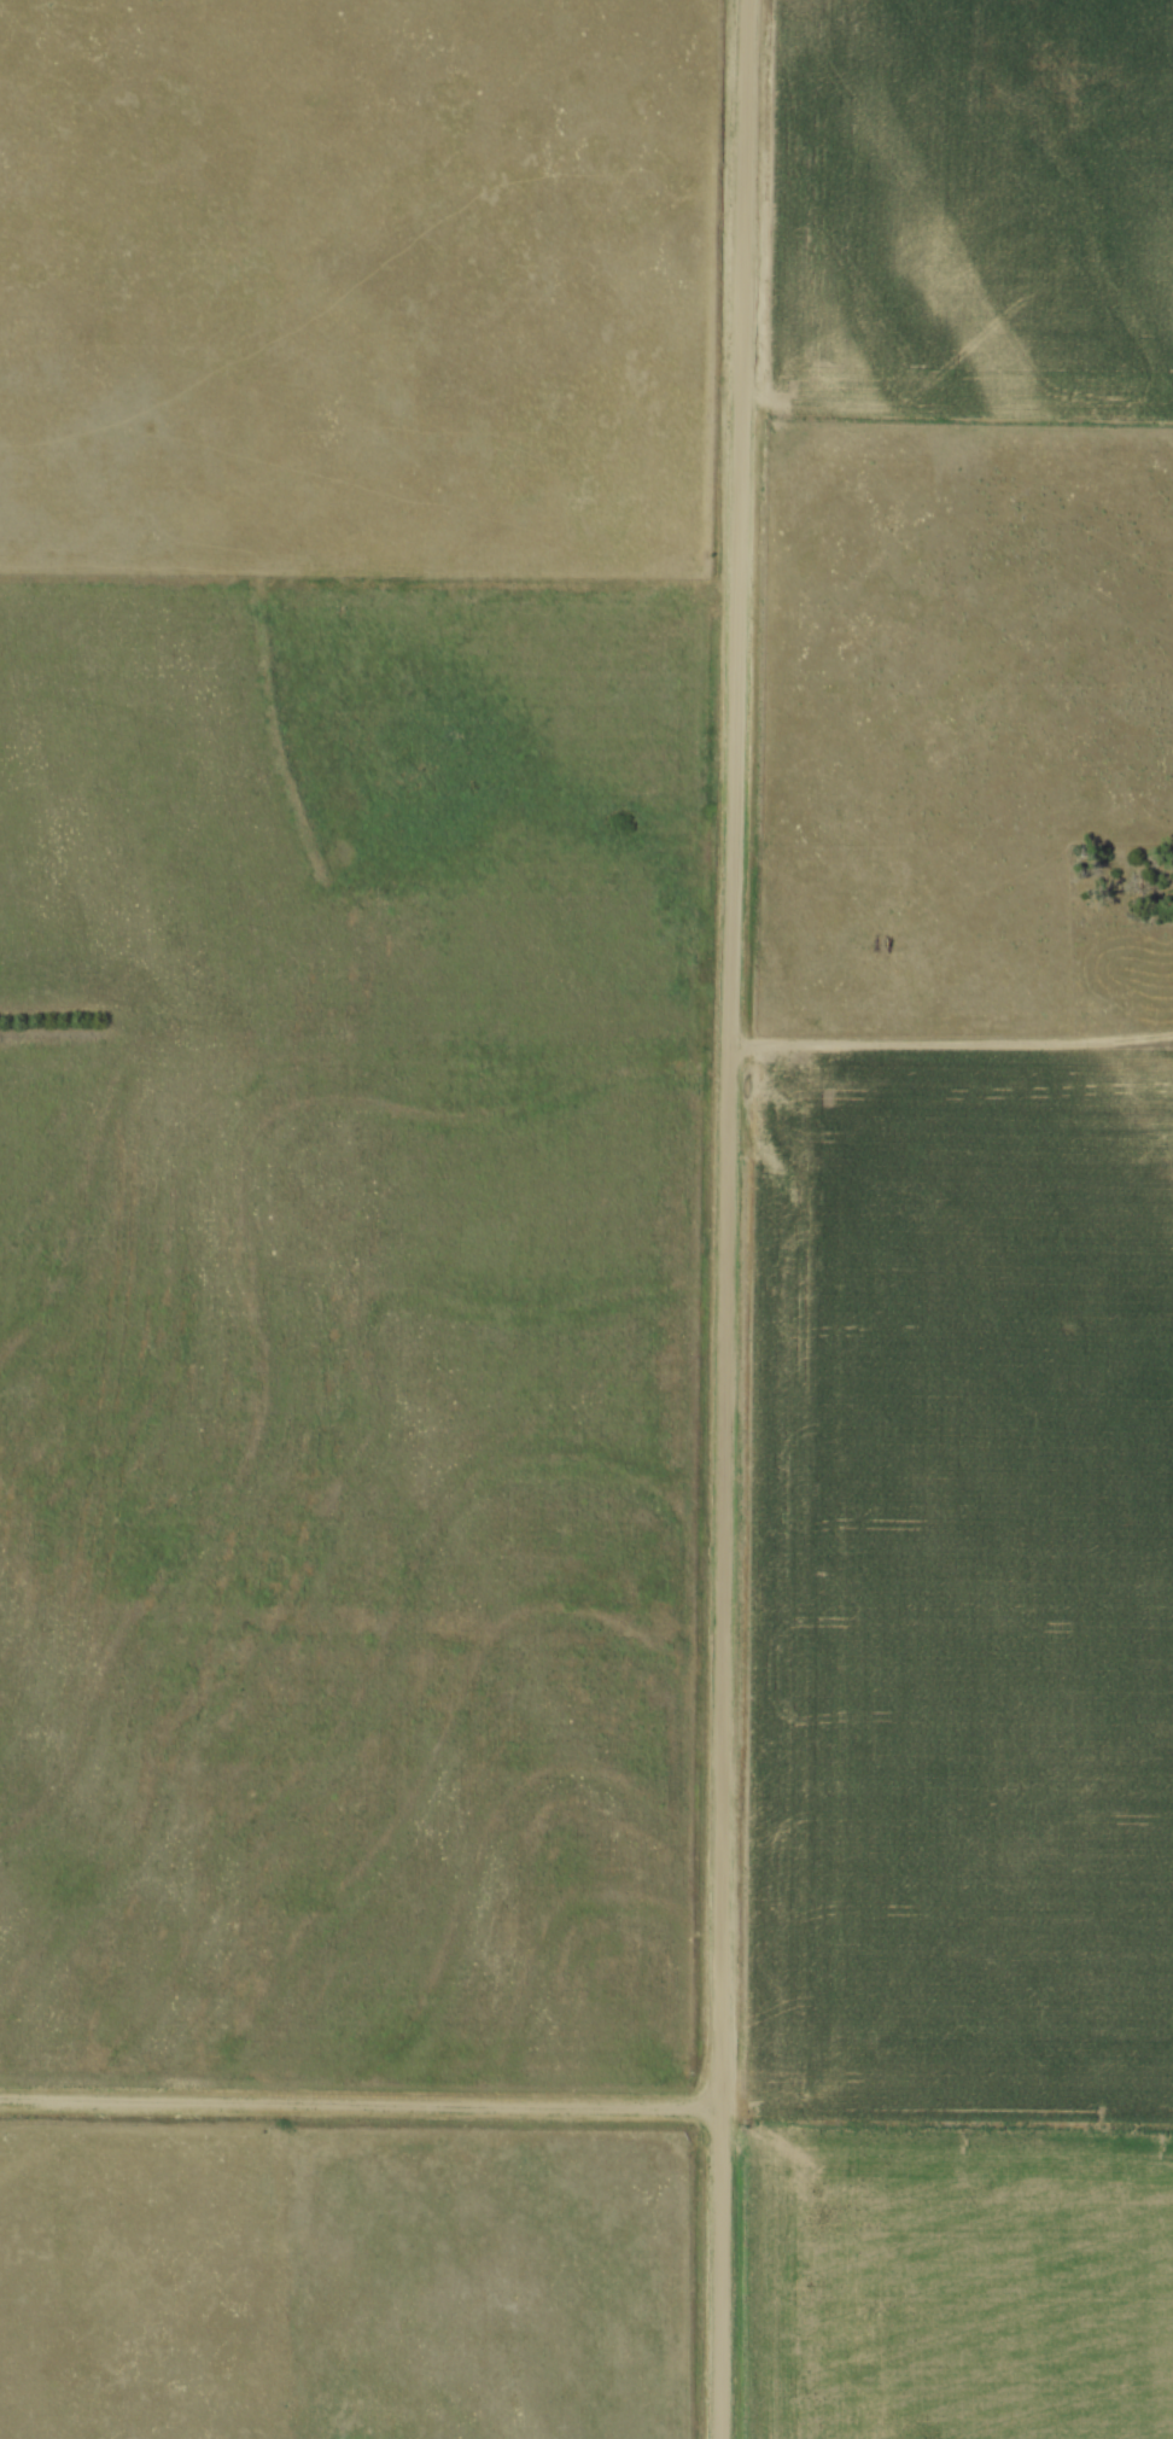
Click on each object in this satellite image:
road: (730, 1219)
road: (358, 2106)

